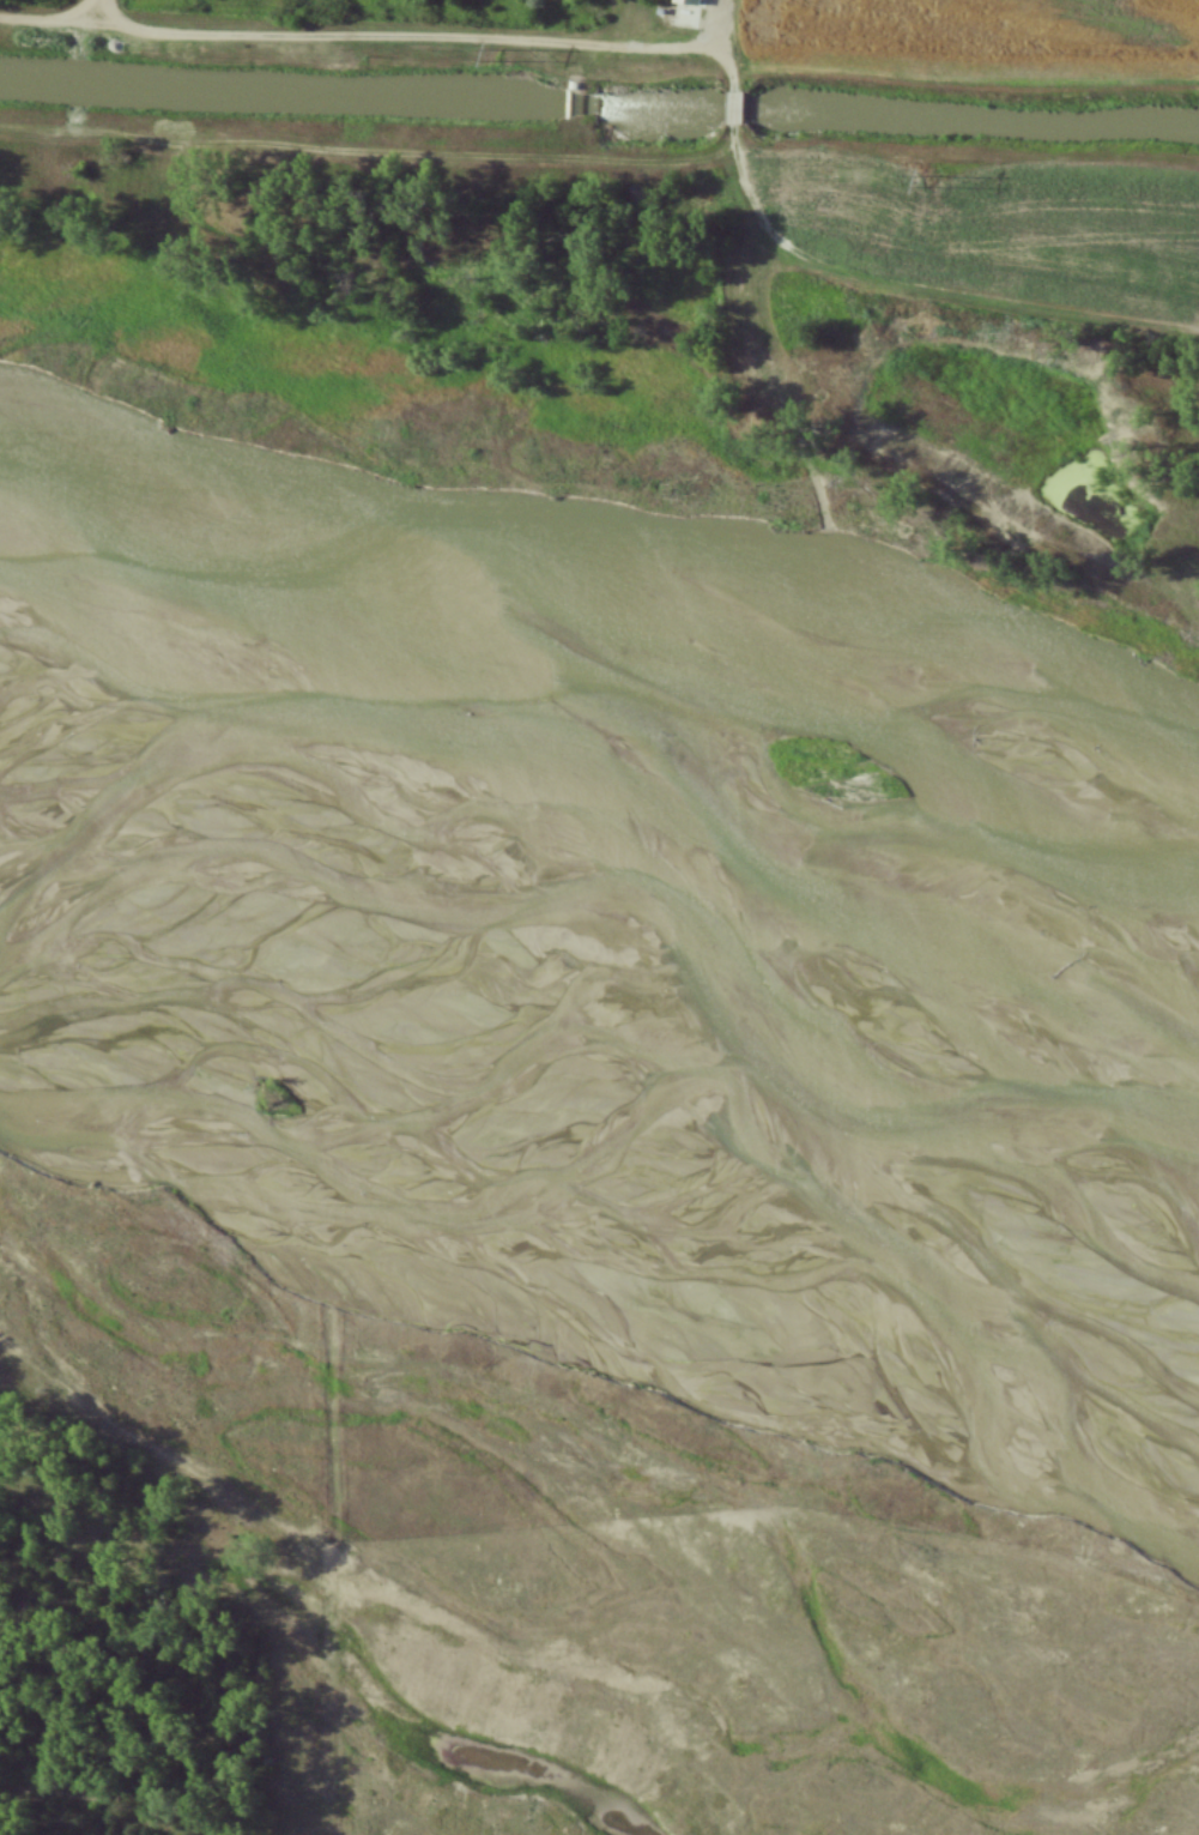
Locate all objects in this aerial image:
building: (686, 2)
road: (99, 14)
road: (375, 43)
power tower: (508, 59)
road: (732, 109)
road: (379, 159)
power tower: (929, 183)
river: (600, 838)

